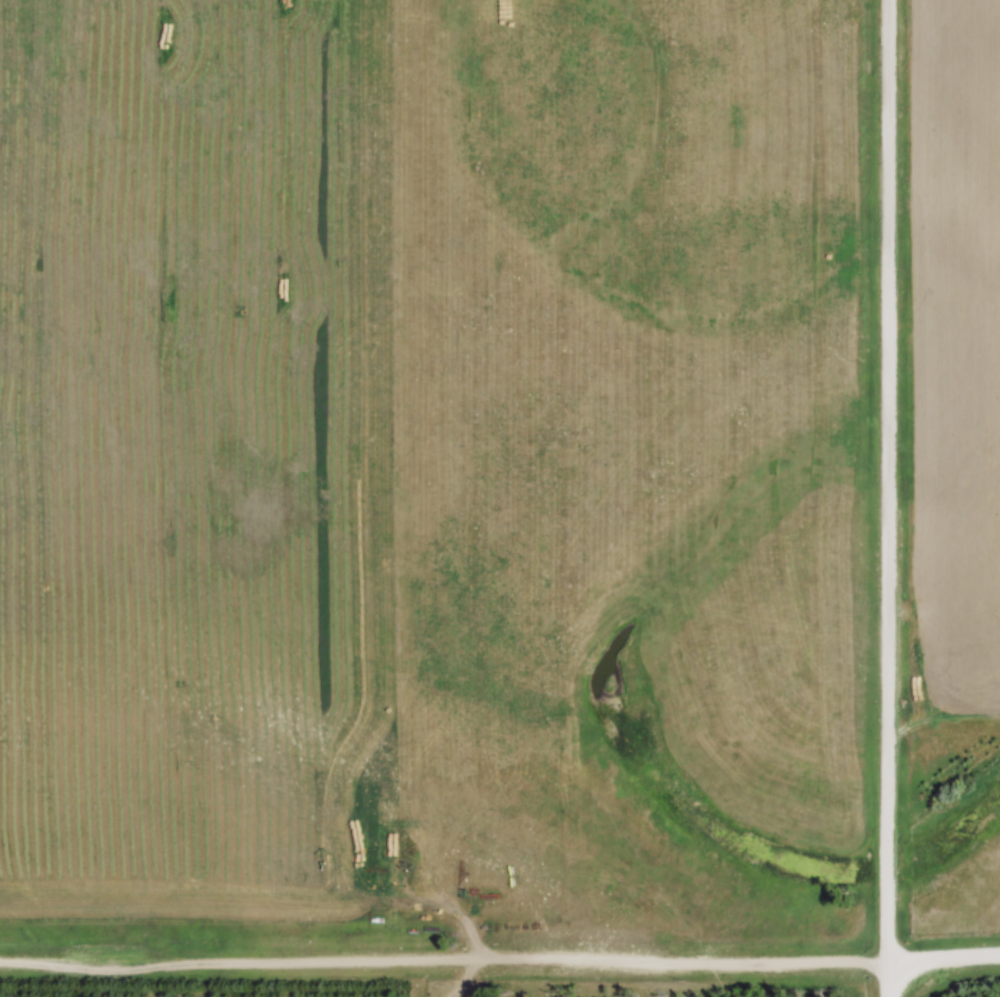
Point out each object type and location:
road: (889, 498)
road: (500, 961)

